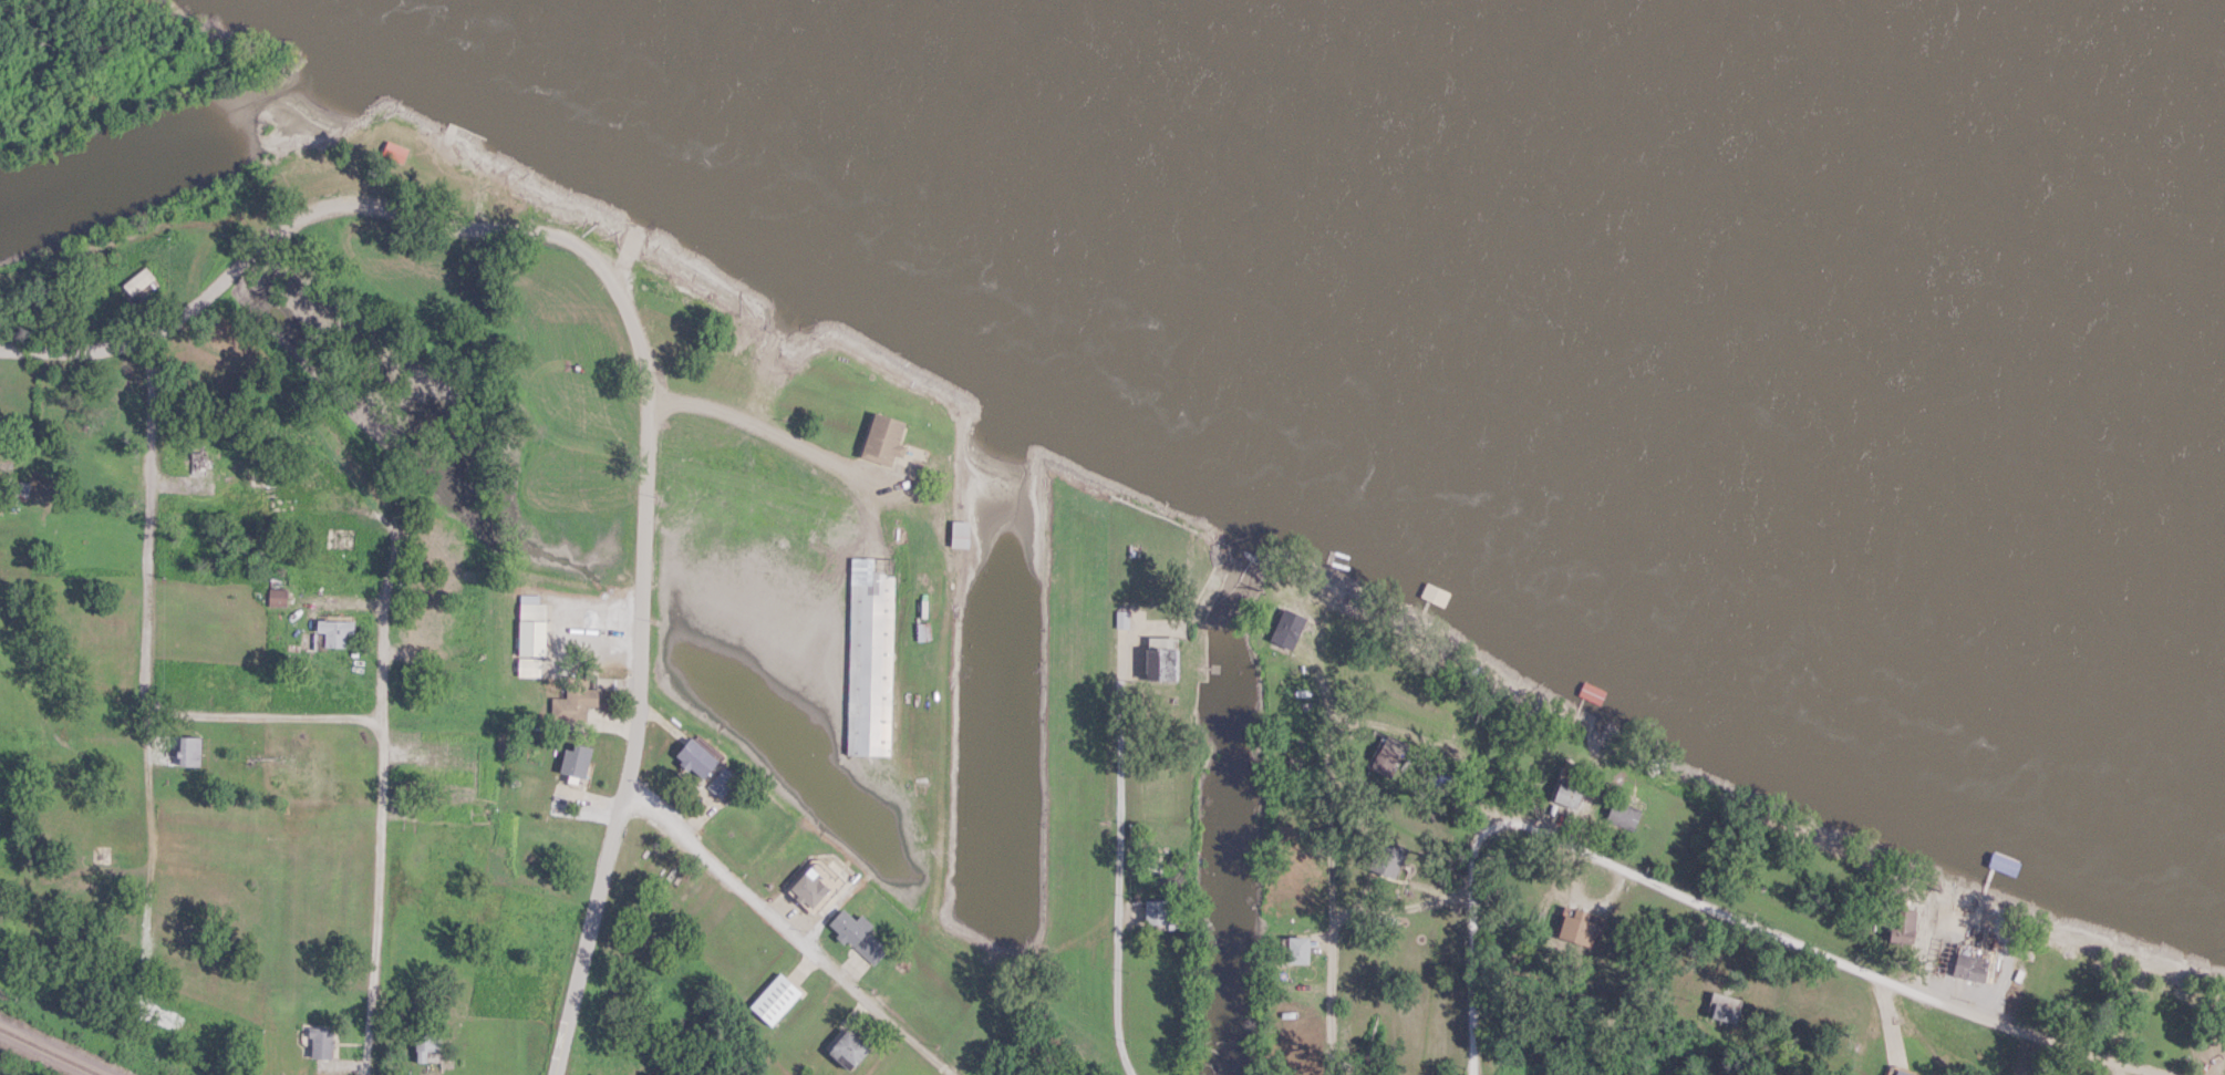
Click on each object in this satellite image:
river: (1915, 90)
road: (637, 342)
road: (774, 432)
road: (147, 524)
road: (383, 613)
road: (1462, 751)
road: (382, 787)
road: (1118, 865)
road: (1335, 905)
road: (787, 930)
road: (1492, 944)
road: (1811, 963)
railway: (50, 1051)
road: (945, 1073)

